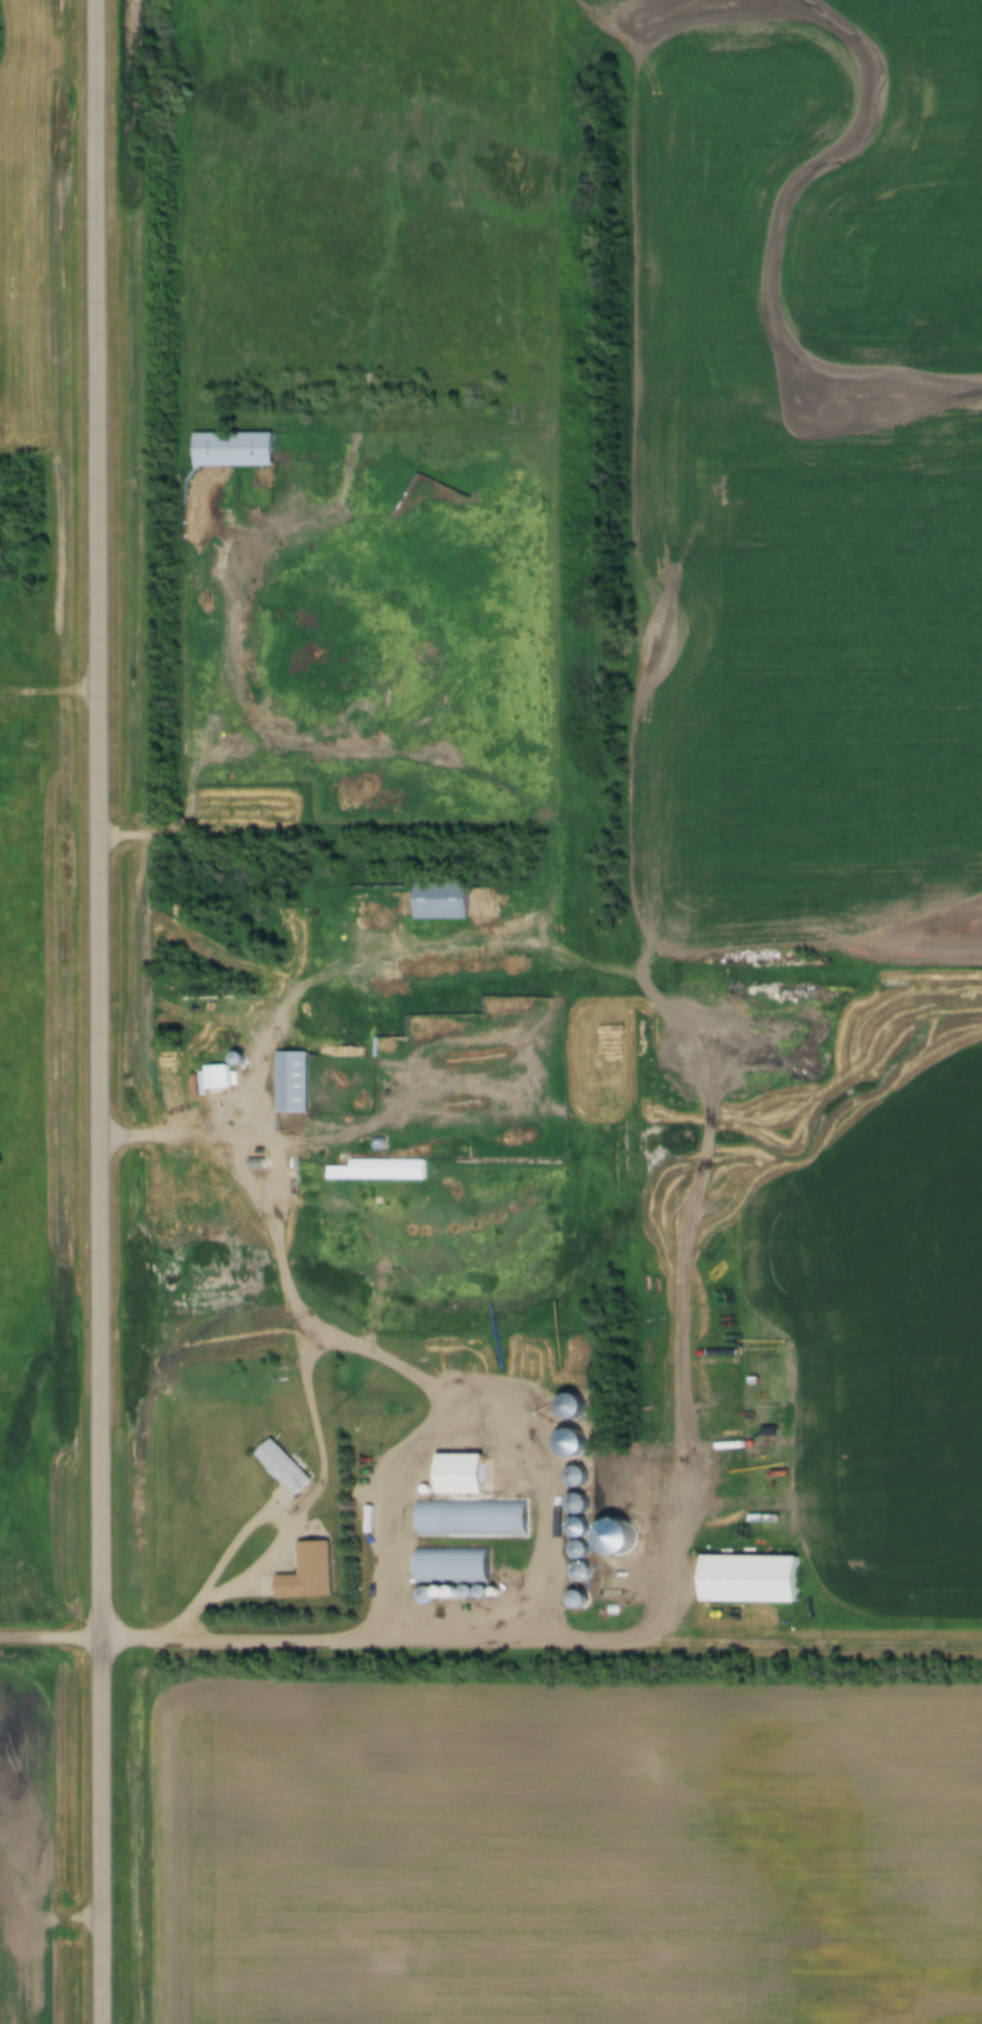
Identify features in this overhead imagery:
building: (229, 448)
road: (51, 693)
road: (185, 833)
building: (437, 900)
building: (692, 983)
road: (658, 1002)
road: (103, 1011)
building: (387, 1047)
building: (214, 1079)
building: (289, 1082)
building: (381, 1170)
road: (382, 1360)
road: (313, 1404)
building: (564, 1406)
road: (481, 1408)
building: (279, 1471)
building: (454, 1473)
building: (571, 1475)
building: (468, 1519)
road: (240, 1541)
building: (574, 1551)
building: (447, 1564)
building: (304, 1573)
building: (576, 1573)
building: (744, 1579)
building: (420, 1595)
building: (442, 1595)
road: (52, 1639)
road: (755, 1640)
road: (317, 1641)

